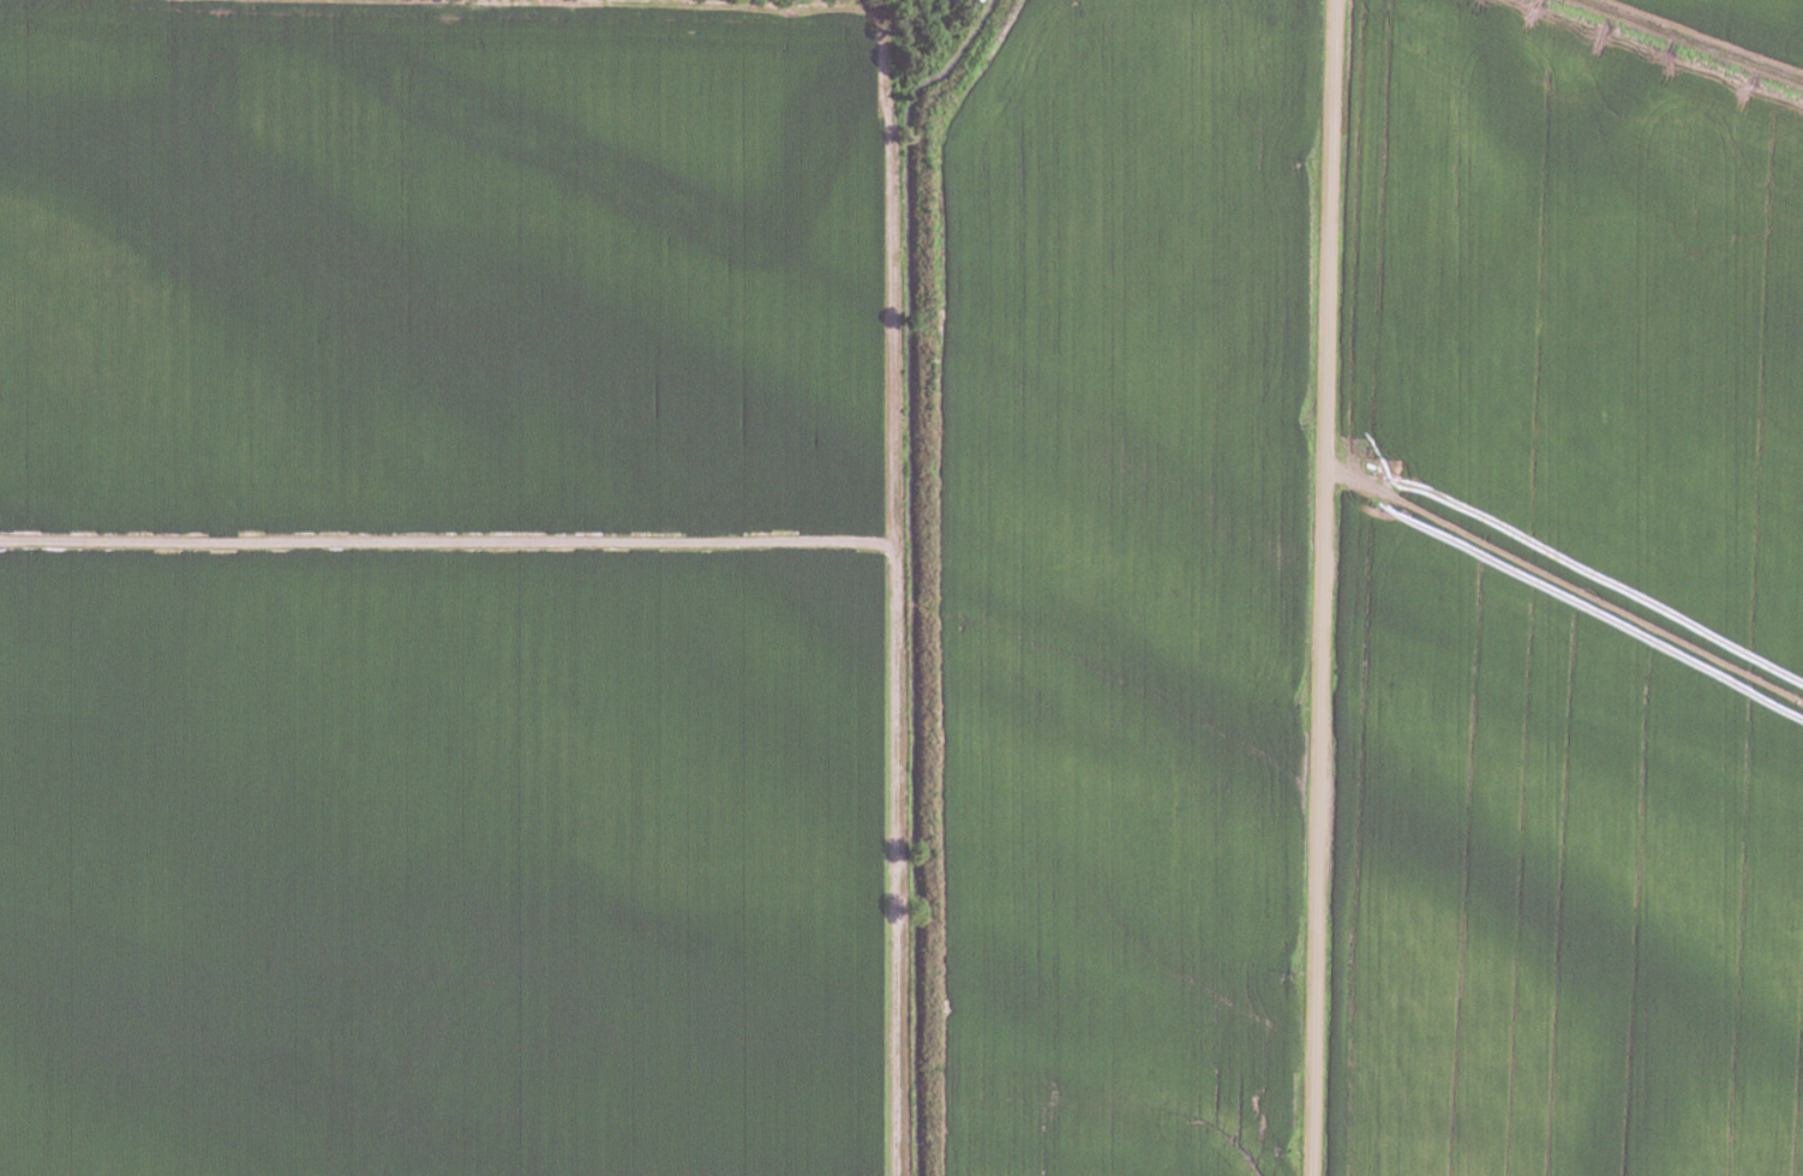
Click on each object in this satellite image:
road: (1328, 587)

